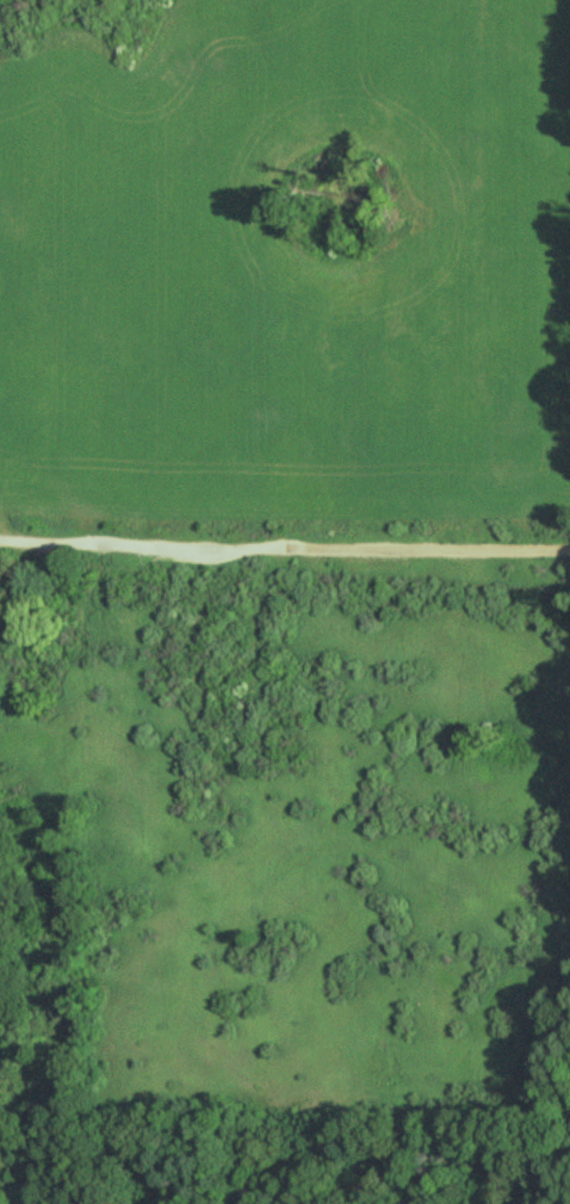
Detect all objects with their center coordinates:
crop: (290, 264)
road: (285, 538)

